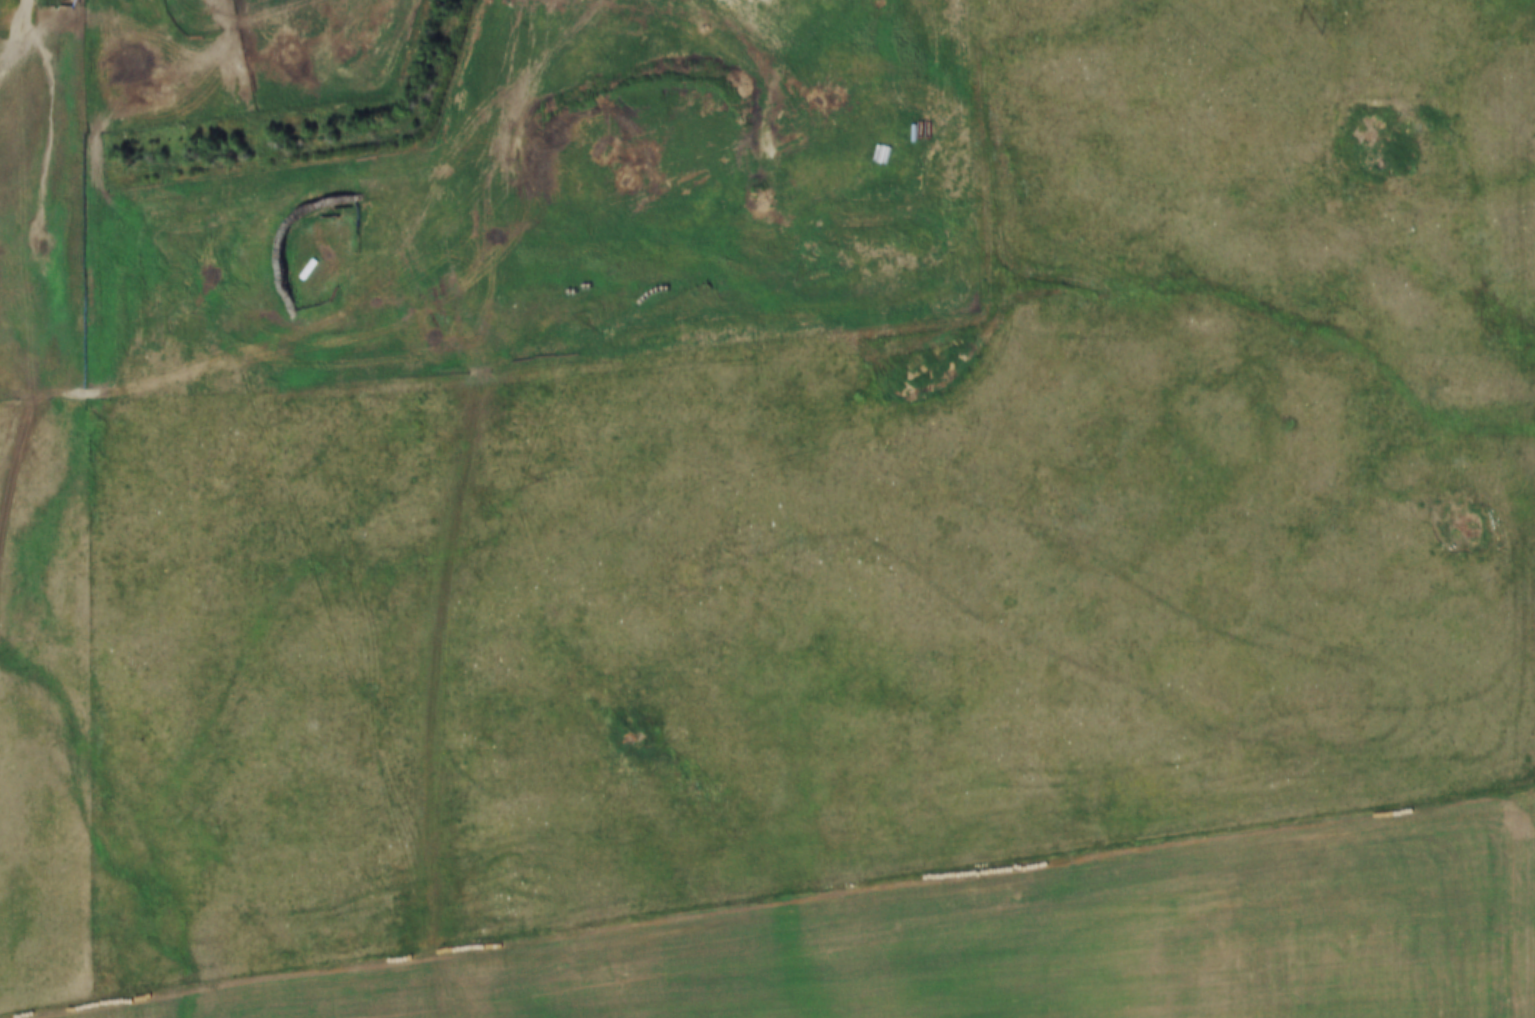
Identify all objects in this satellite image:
road: (37, 287)

